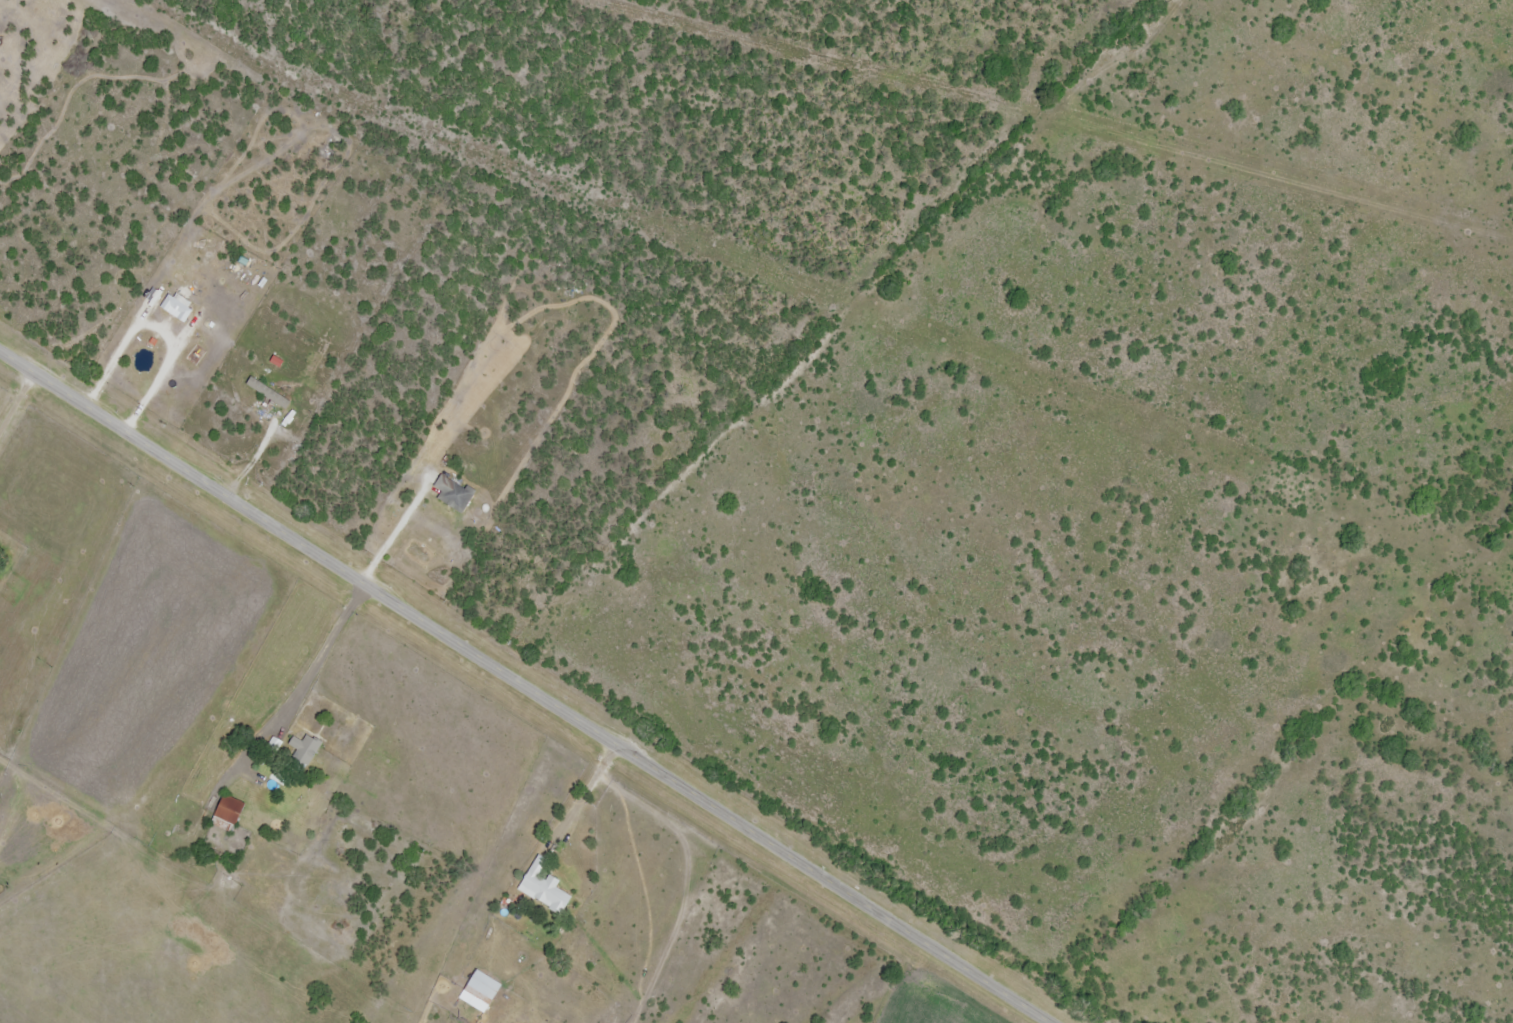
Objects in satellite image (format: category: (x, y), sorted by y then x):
road: (154, 330)
road: (15, 398)
building: (456, 495)
road: (387, 538)
road: (525, 687)
building: (304, 751)
building: (227, 814)
building: (481, 987)

